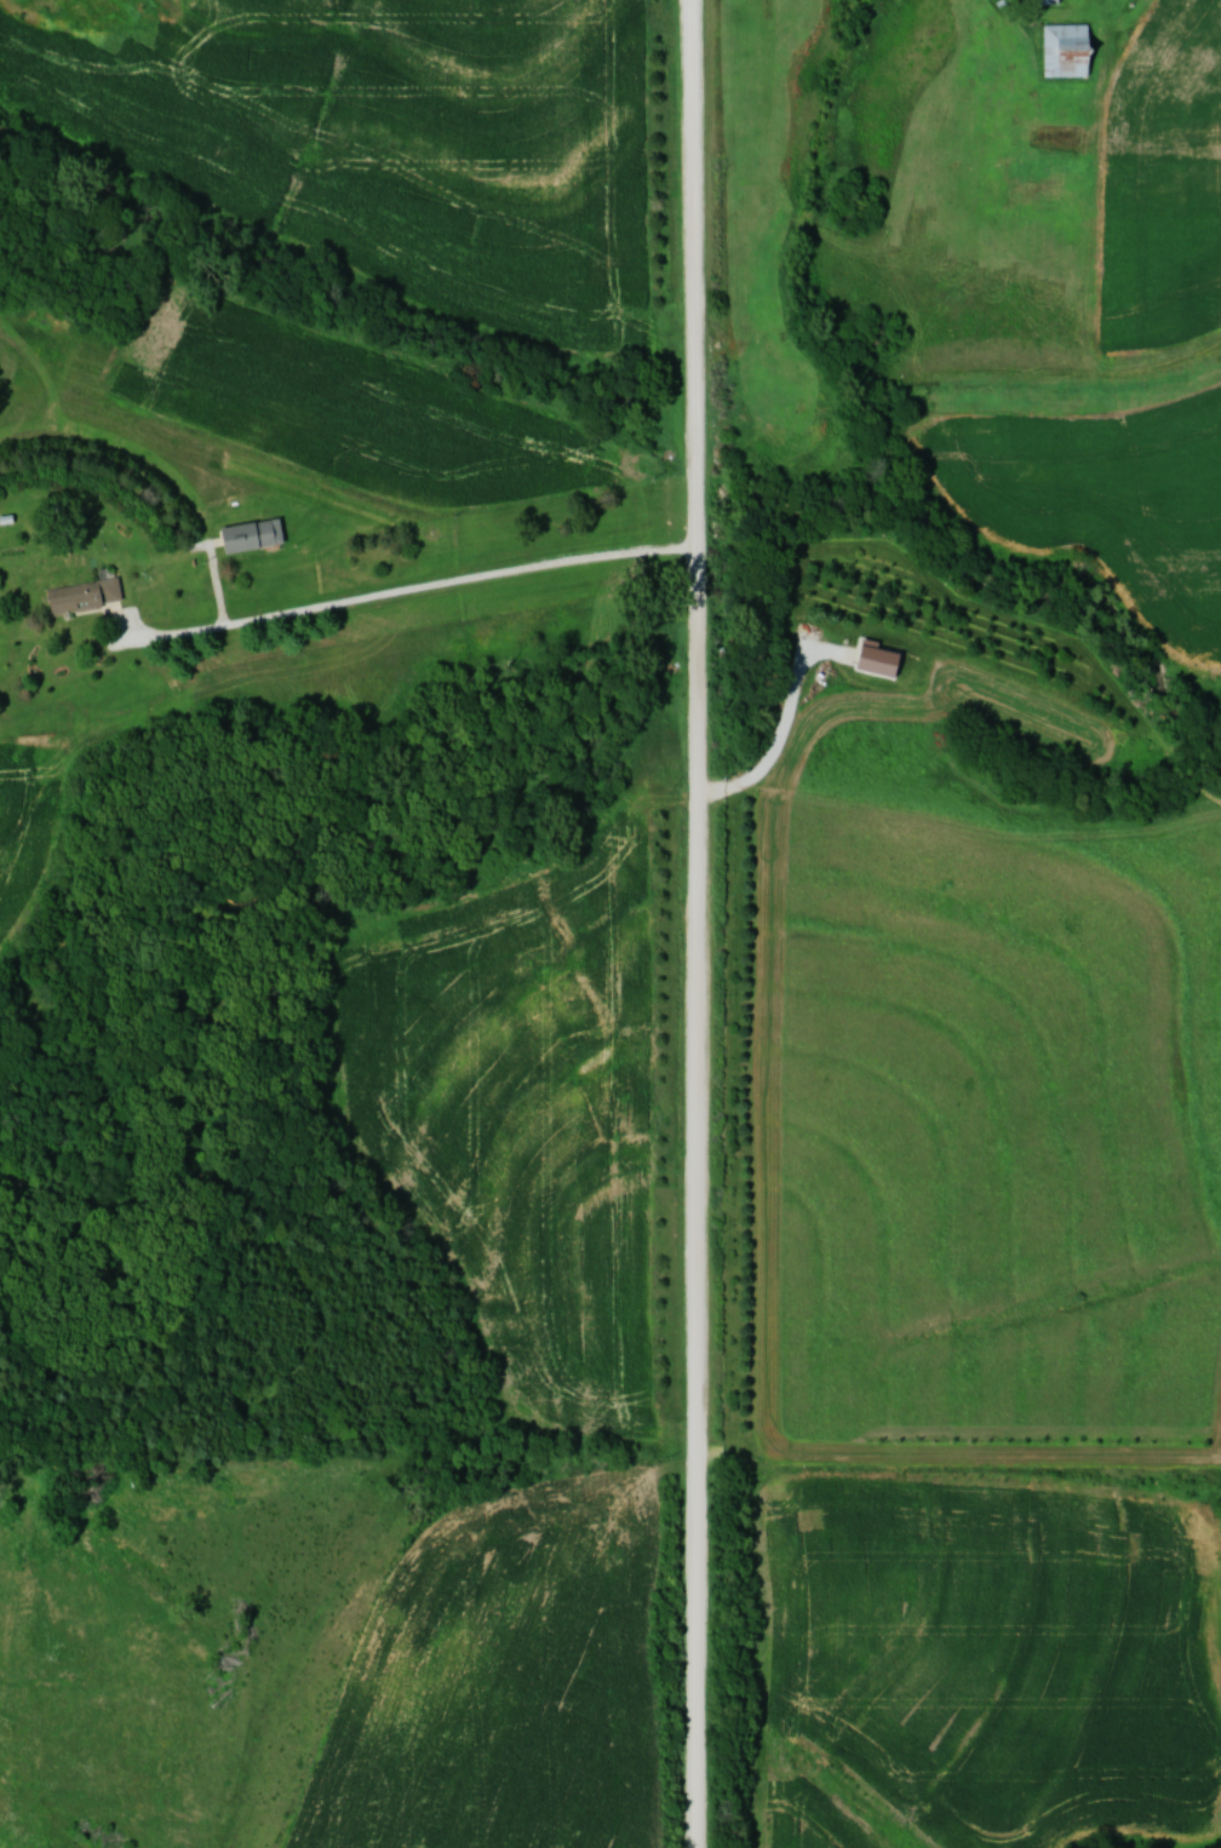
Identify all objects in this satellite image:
building: (1055, 1)
building: (1068, 50)
building: (254, 534)
road: (430, 590)
building: (86, 593)
road: (701, 923)

